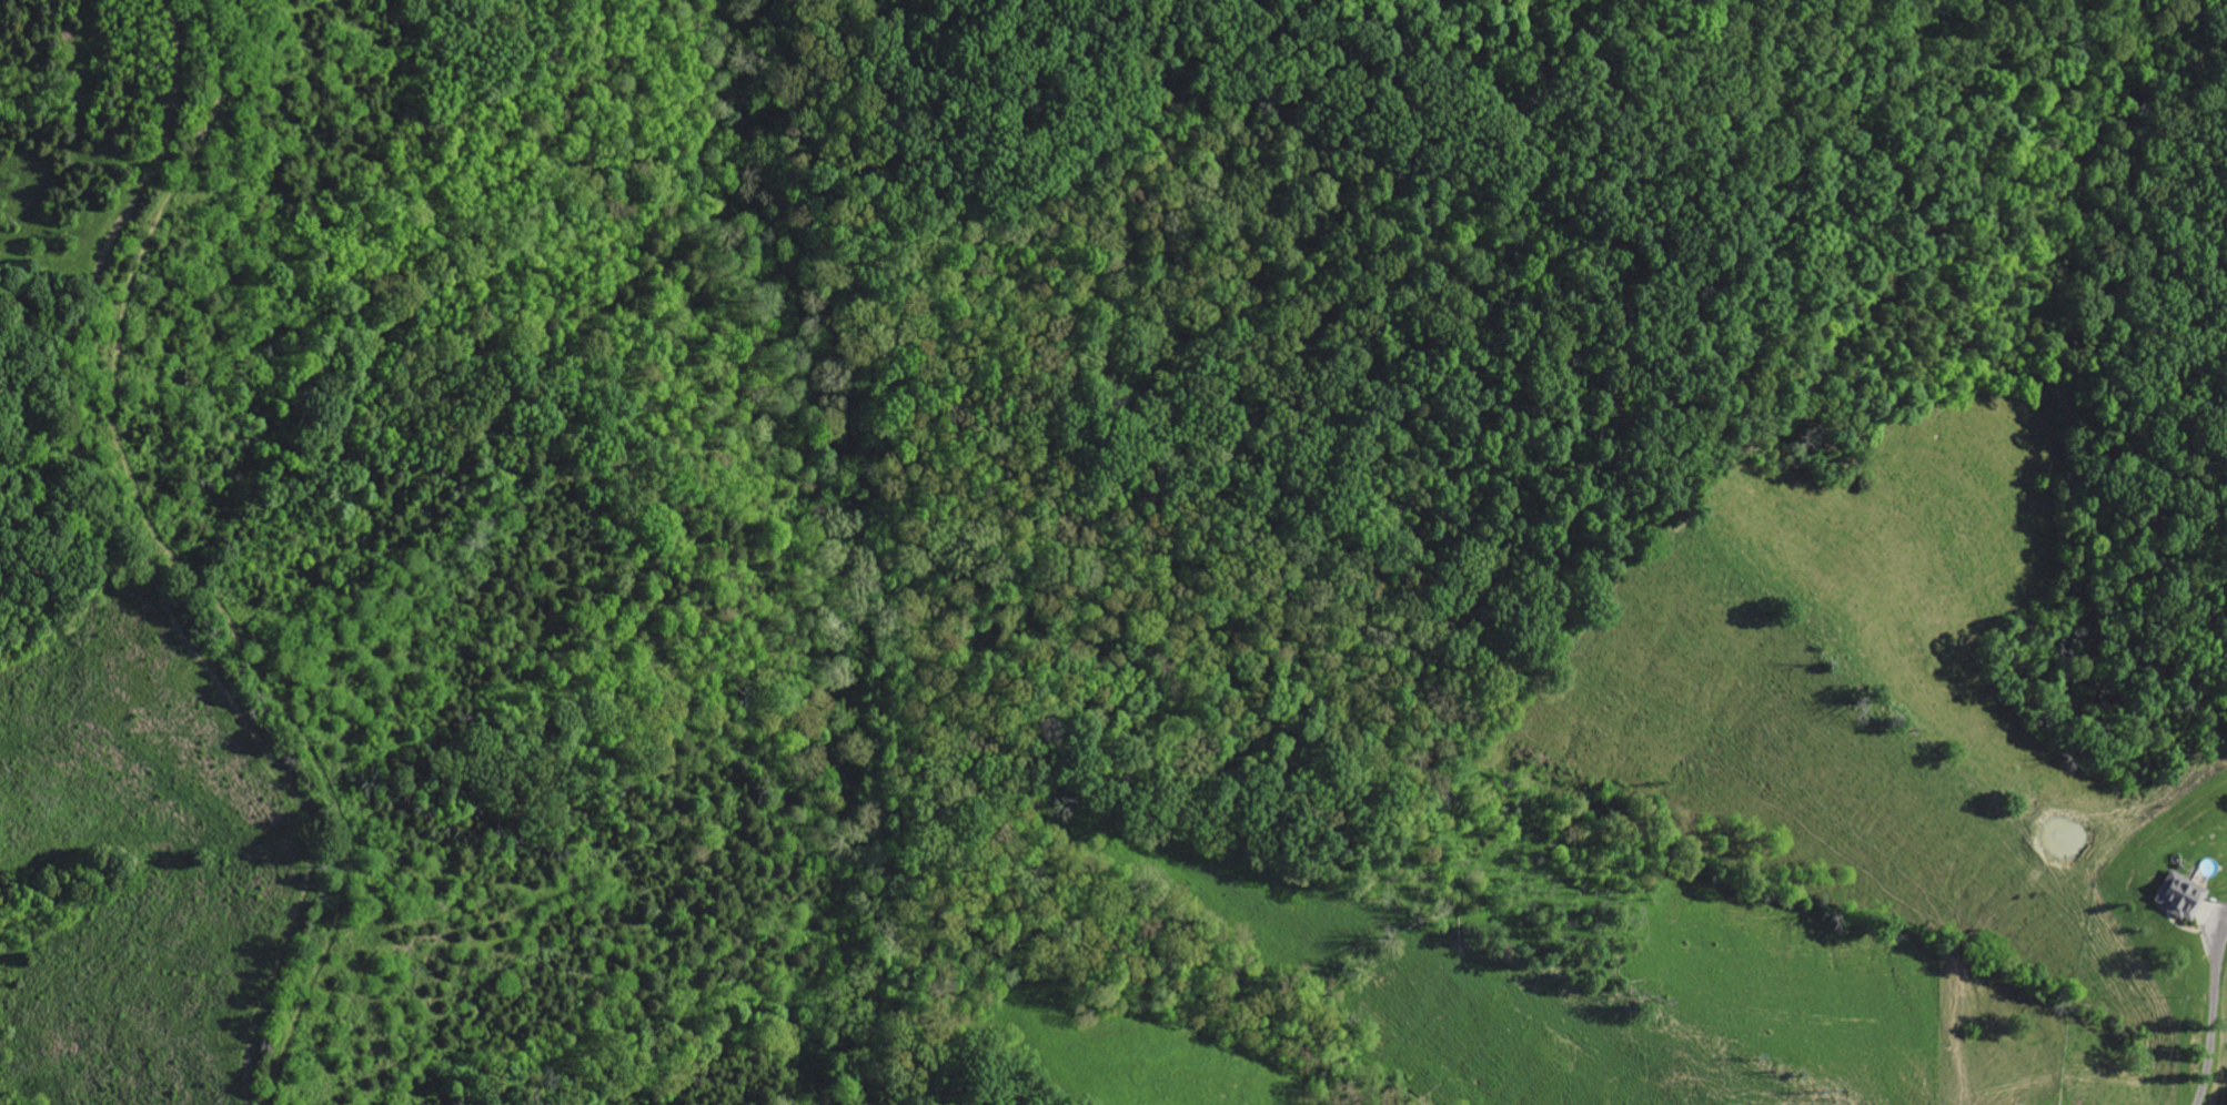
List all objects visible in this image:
building: (2183, 895)
road: (2208, 1032)

